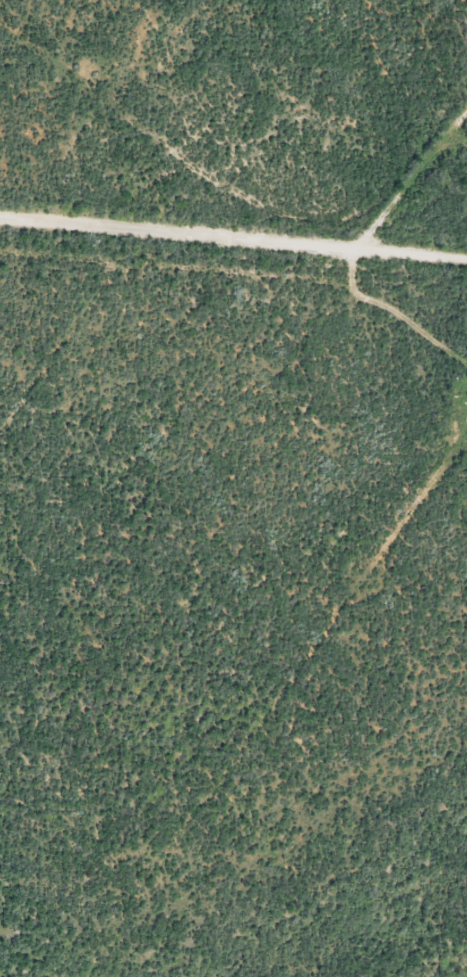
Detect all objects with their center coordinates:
road: (233, 250)

